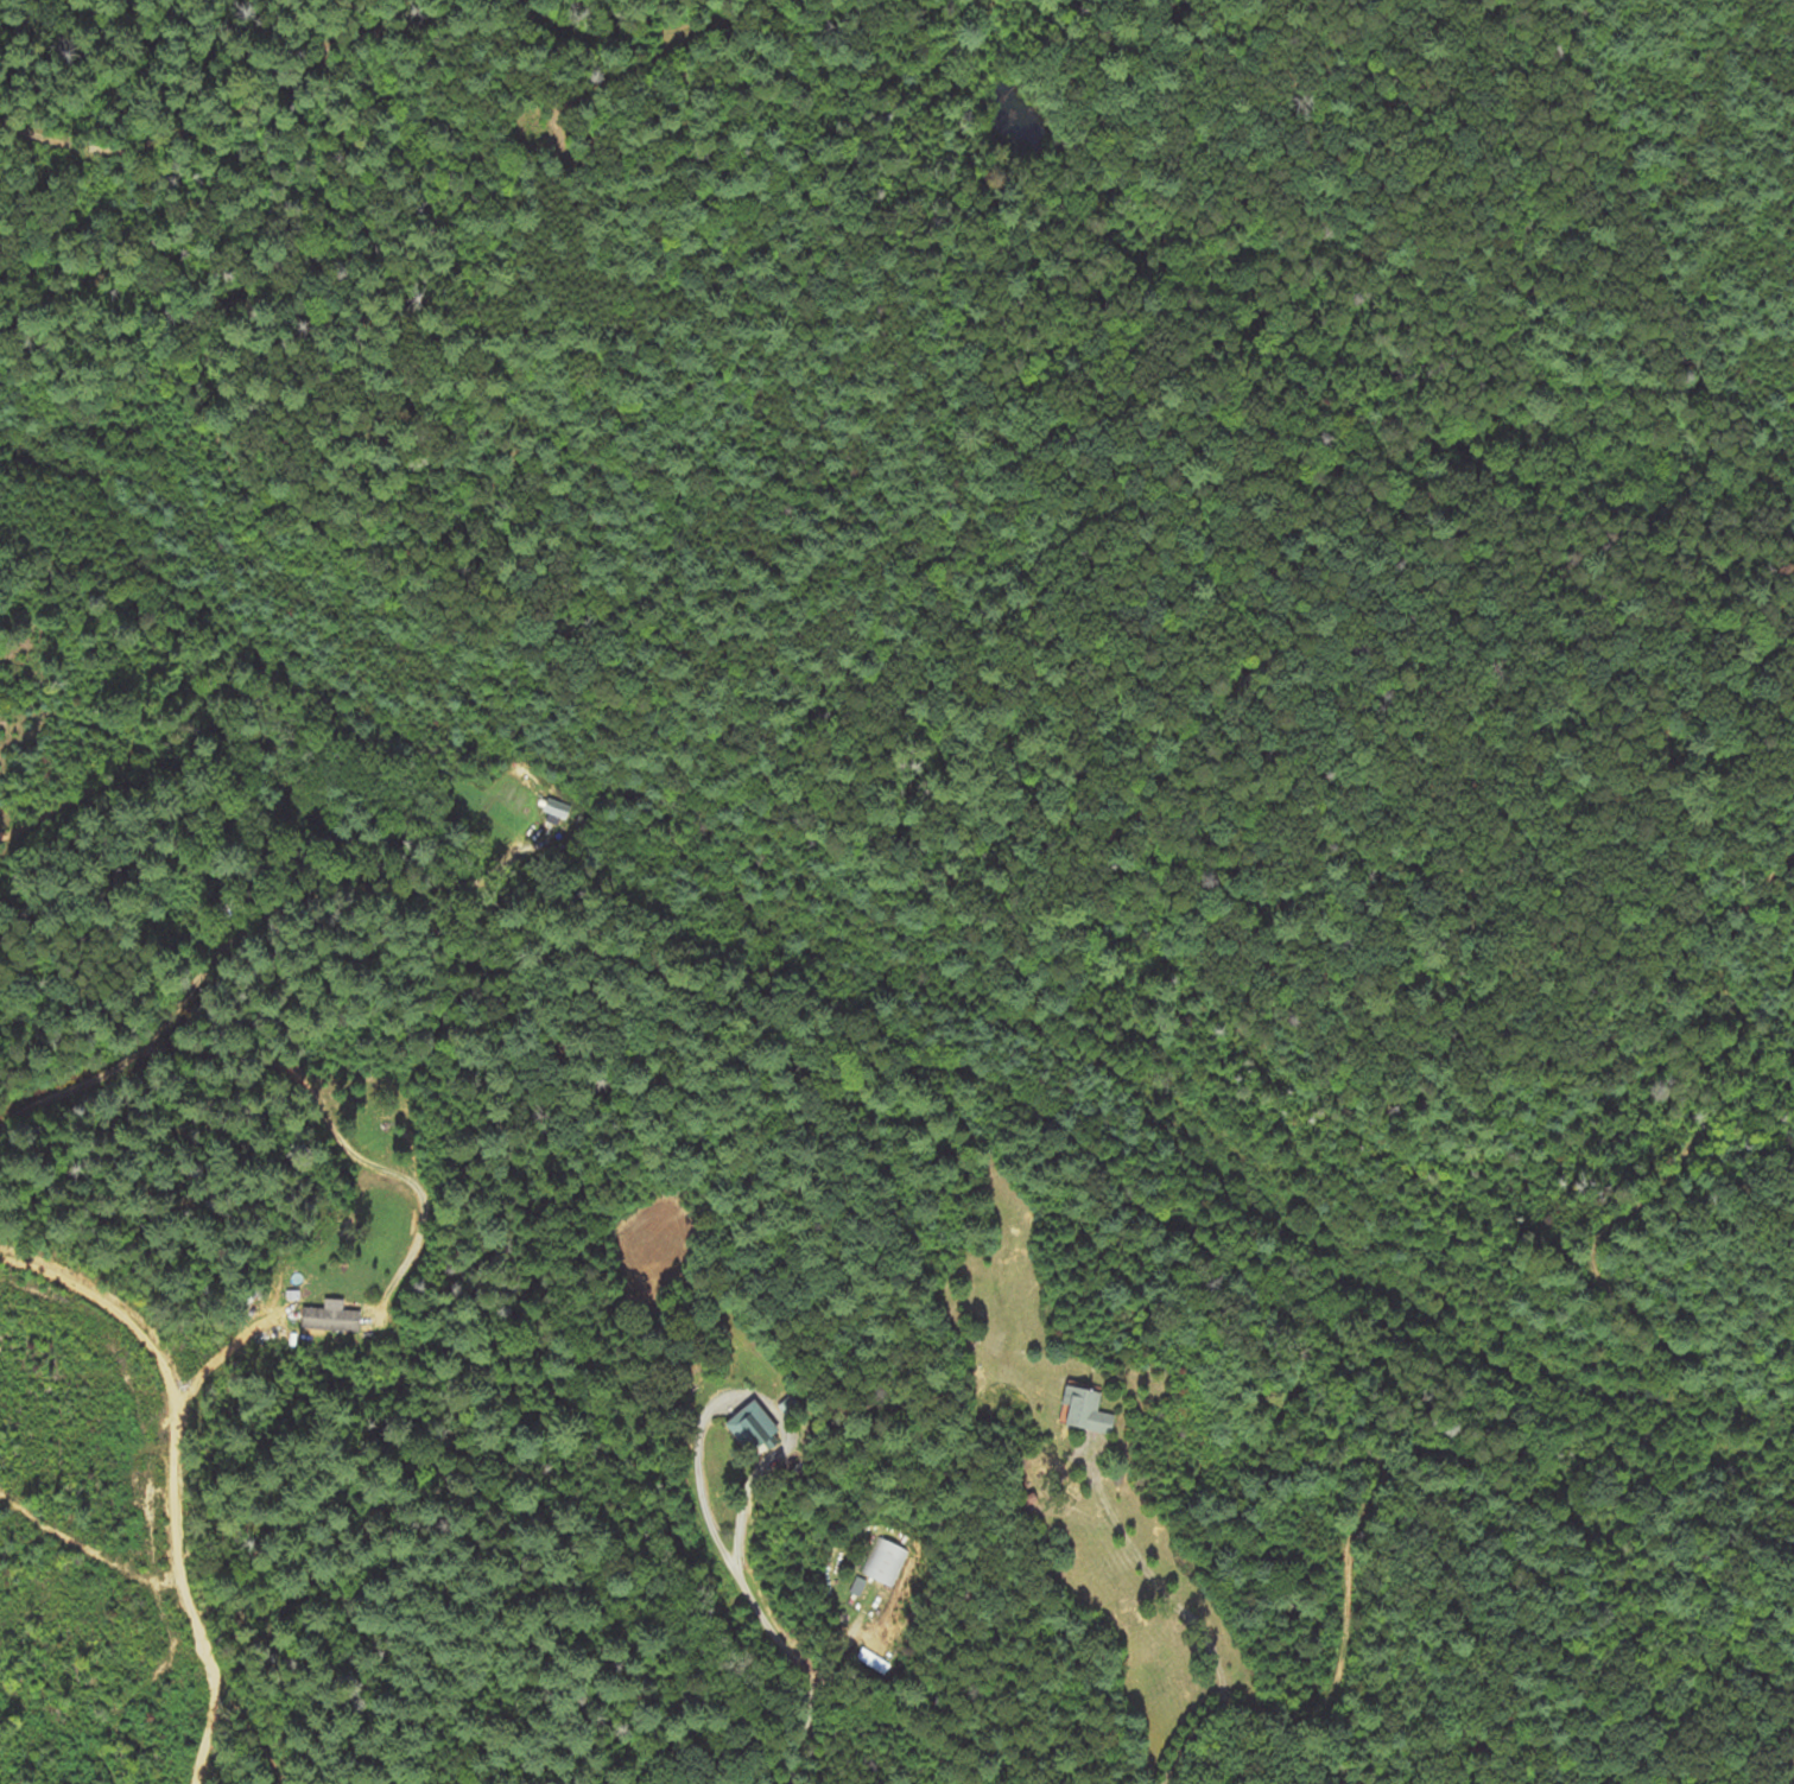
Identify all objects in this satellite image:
road: (232, 109)
building: (556, 813)
building: (329, 1318)
building: (1084, 1411)
building: (752, 1429)
road: (171, 1477)
building: (882, 1567)
road: (1162, 1604)
road: (761, 1615)

